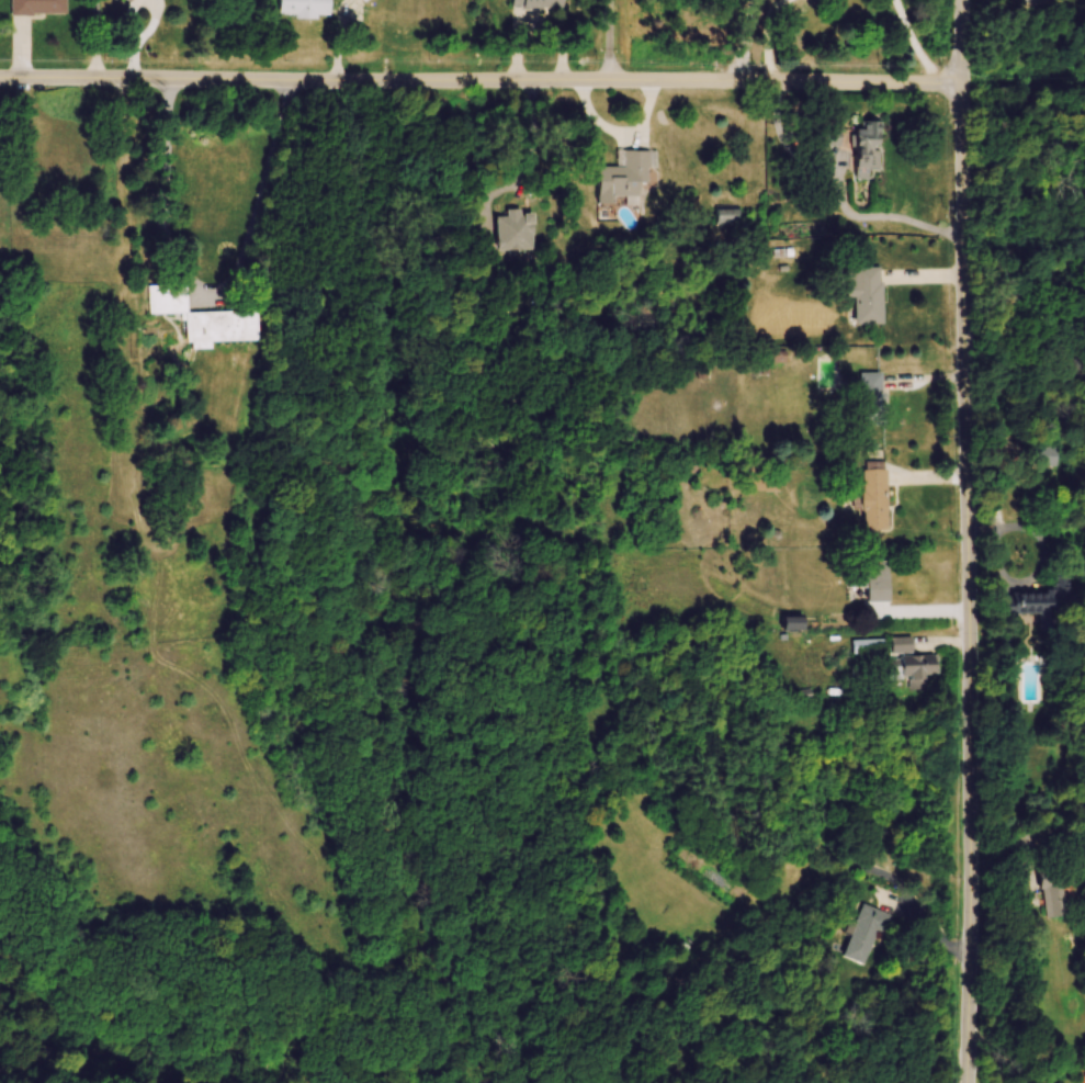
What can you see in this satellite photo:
building: (365, 0)
building: (129, 1)
building: (538, 4)
building: (39, 8)
building: (304, 9)
road: (129, 19)
road: (152, 21)
road: (98, 41)
road: (770, 41)
road: (610, 42)
road: (914, 44)
road: (135, 59)
road: (482, 81)
building: (833, 139)
road: (787, 146)
building: (869, 151)
road: (528, 163)
building: (625, 180)
road: (890, 216)
building: (728, 218)
building: (519, 233)
road: (210, 293)
building: (868, 296)
building: (205, 320)
building: (874, 402)
building: (690, 465)
building: (879, 503)
road: (967, 541)
road: (1043, 560)
building: (873, 582)
building: (1053, 602)
building: (795, 625)
building: (871, 647)
building: (923, 673)
building: (1031, 848)
building: (1059, 902)
road: (925, 924)
building: (868, 933)
road: (1010, 968)
building: (1084, 1075)

